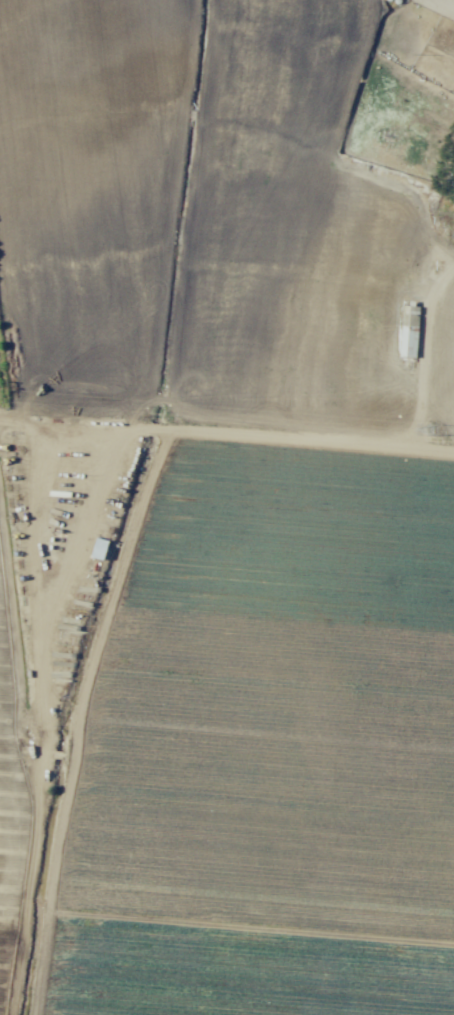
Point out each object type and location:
road: (453, 254)
power tower: (434, 429)
road: (226, 440)
crop: (224, 725)

